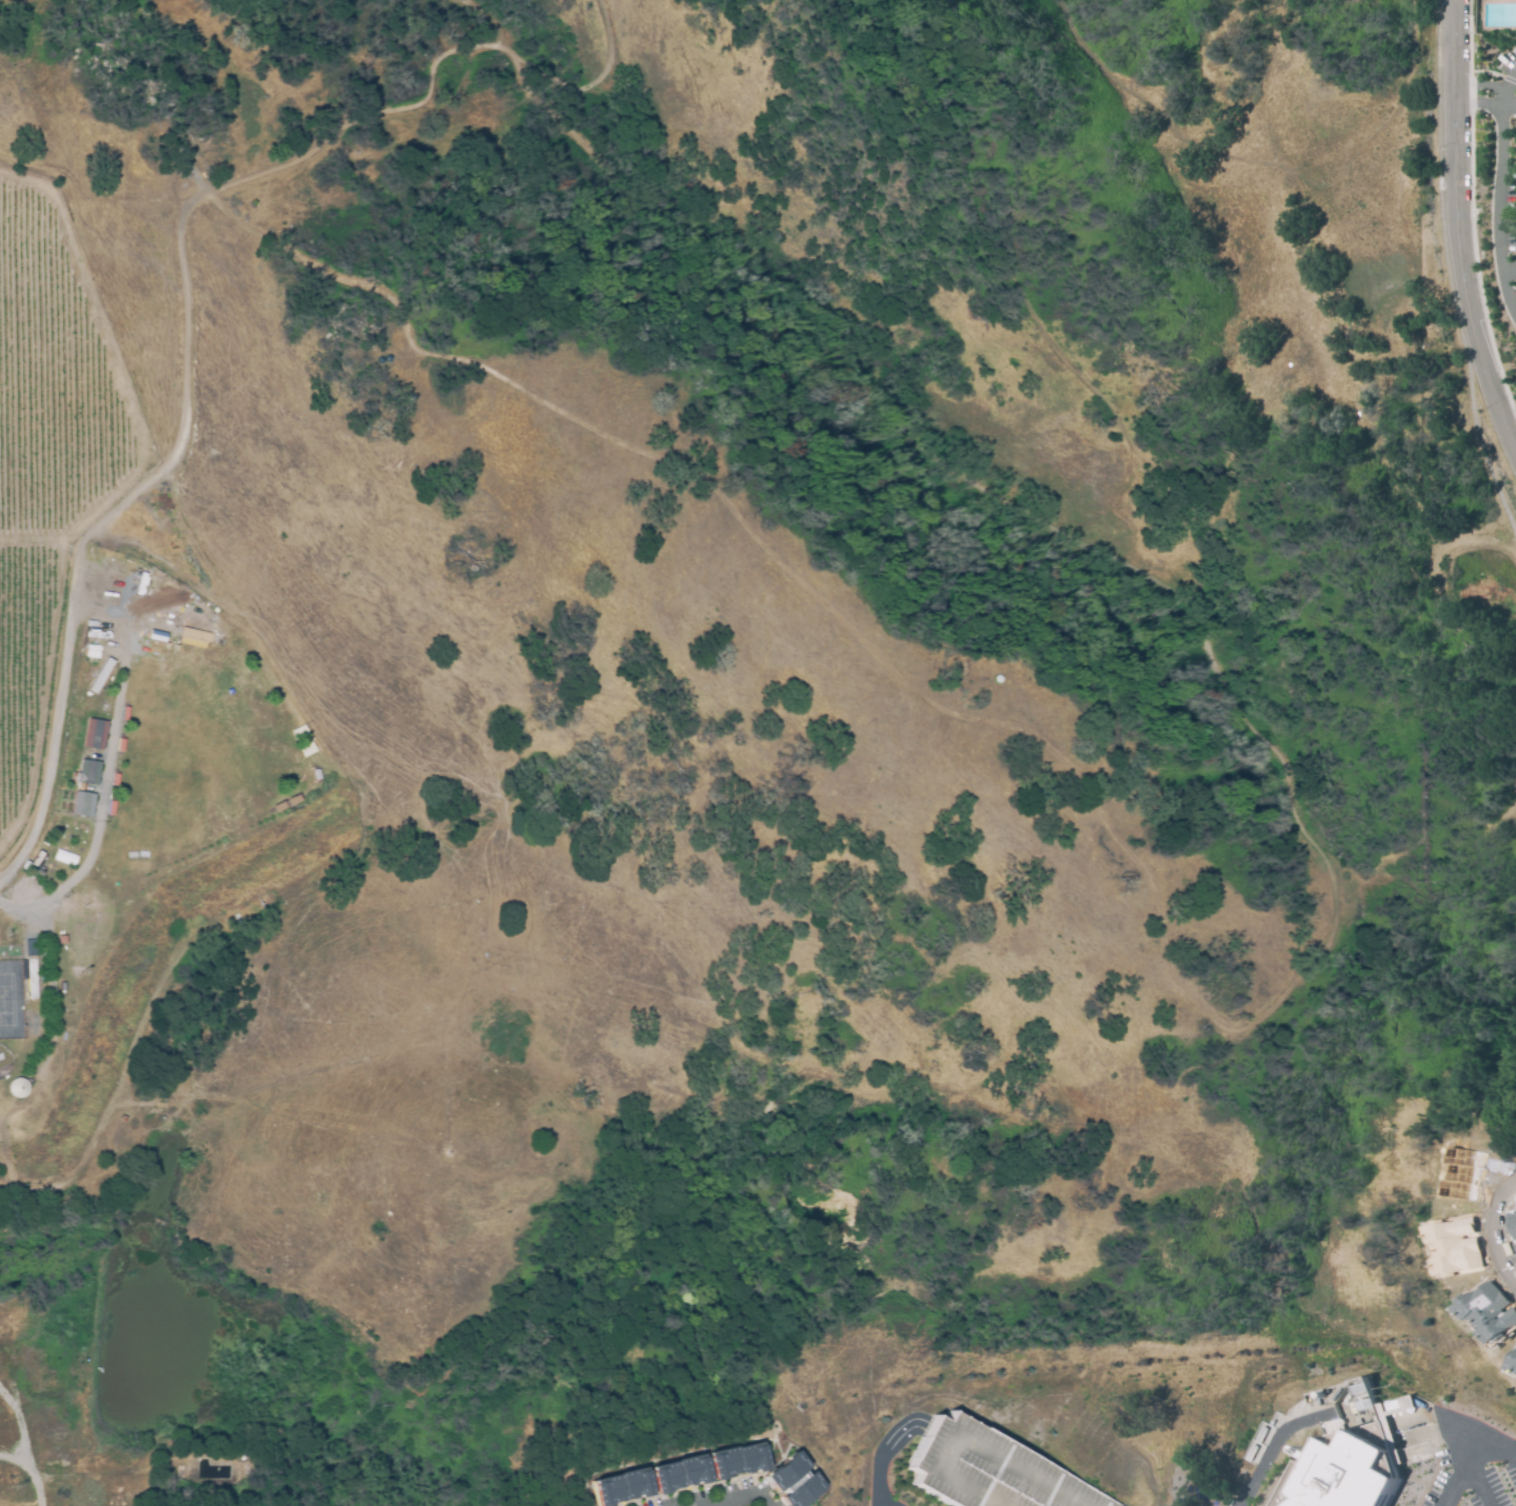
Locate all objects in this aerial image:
road: (1489, 91)
road: (1501, 99)
road: (1500, 202)
road: (1465, 222)
road: (1510, 268)
road: (188, 399)
building: (98, 672)
building: (92, 729)
road: (56, 730)
building: (85, 766)
building: (80, 799)
building: (31, 978)
building: (16, 1085)
building: (1466, 1173)
building: (1515, 1215)
building: (1513, 1225)
road: (1491, 1231)
building: (1461, 1245)
building: (1491, 1313)
building: (1514, 1368)
road: (1424, 1413)
road: (964, 1439)
road: (1271, 1443)
road: (804, 1454)
road: (884, 1454)
road: (1474, 1455)
road: (659, 1457)
road: (1462, 1458)
building: (736, 1460)
parking lot: (1470, 1461)
road: (5, 1463)
building: (991, 1467)
parking garage: (991, 1467)
building: (1342, 1470)
building: (249, 1473)
building: (679, 1473)
building: (181, 1476)
building: (791, 1482)
road: (708, 1484)
building: (618, 1488)
road: (741, 1497)
road: (882, 1503)

